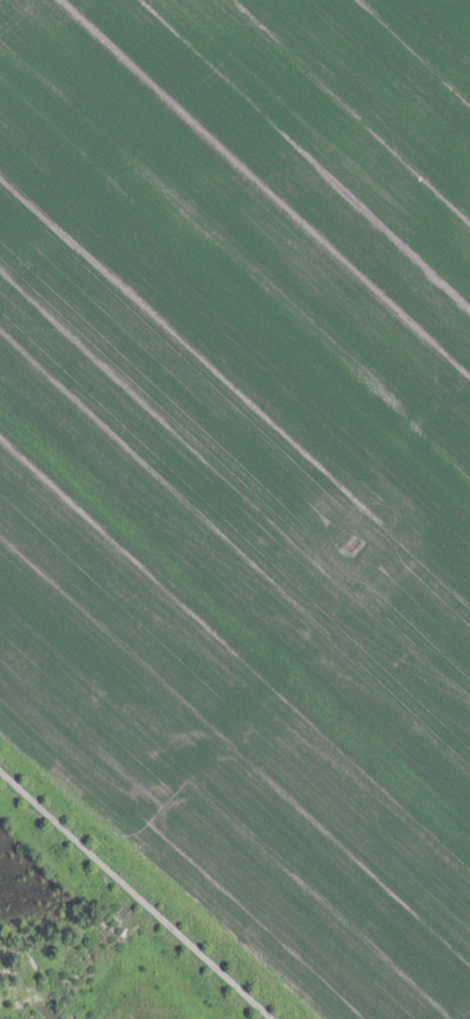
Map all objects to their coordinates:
road: (133, 897)

